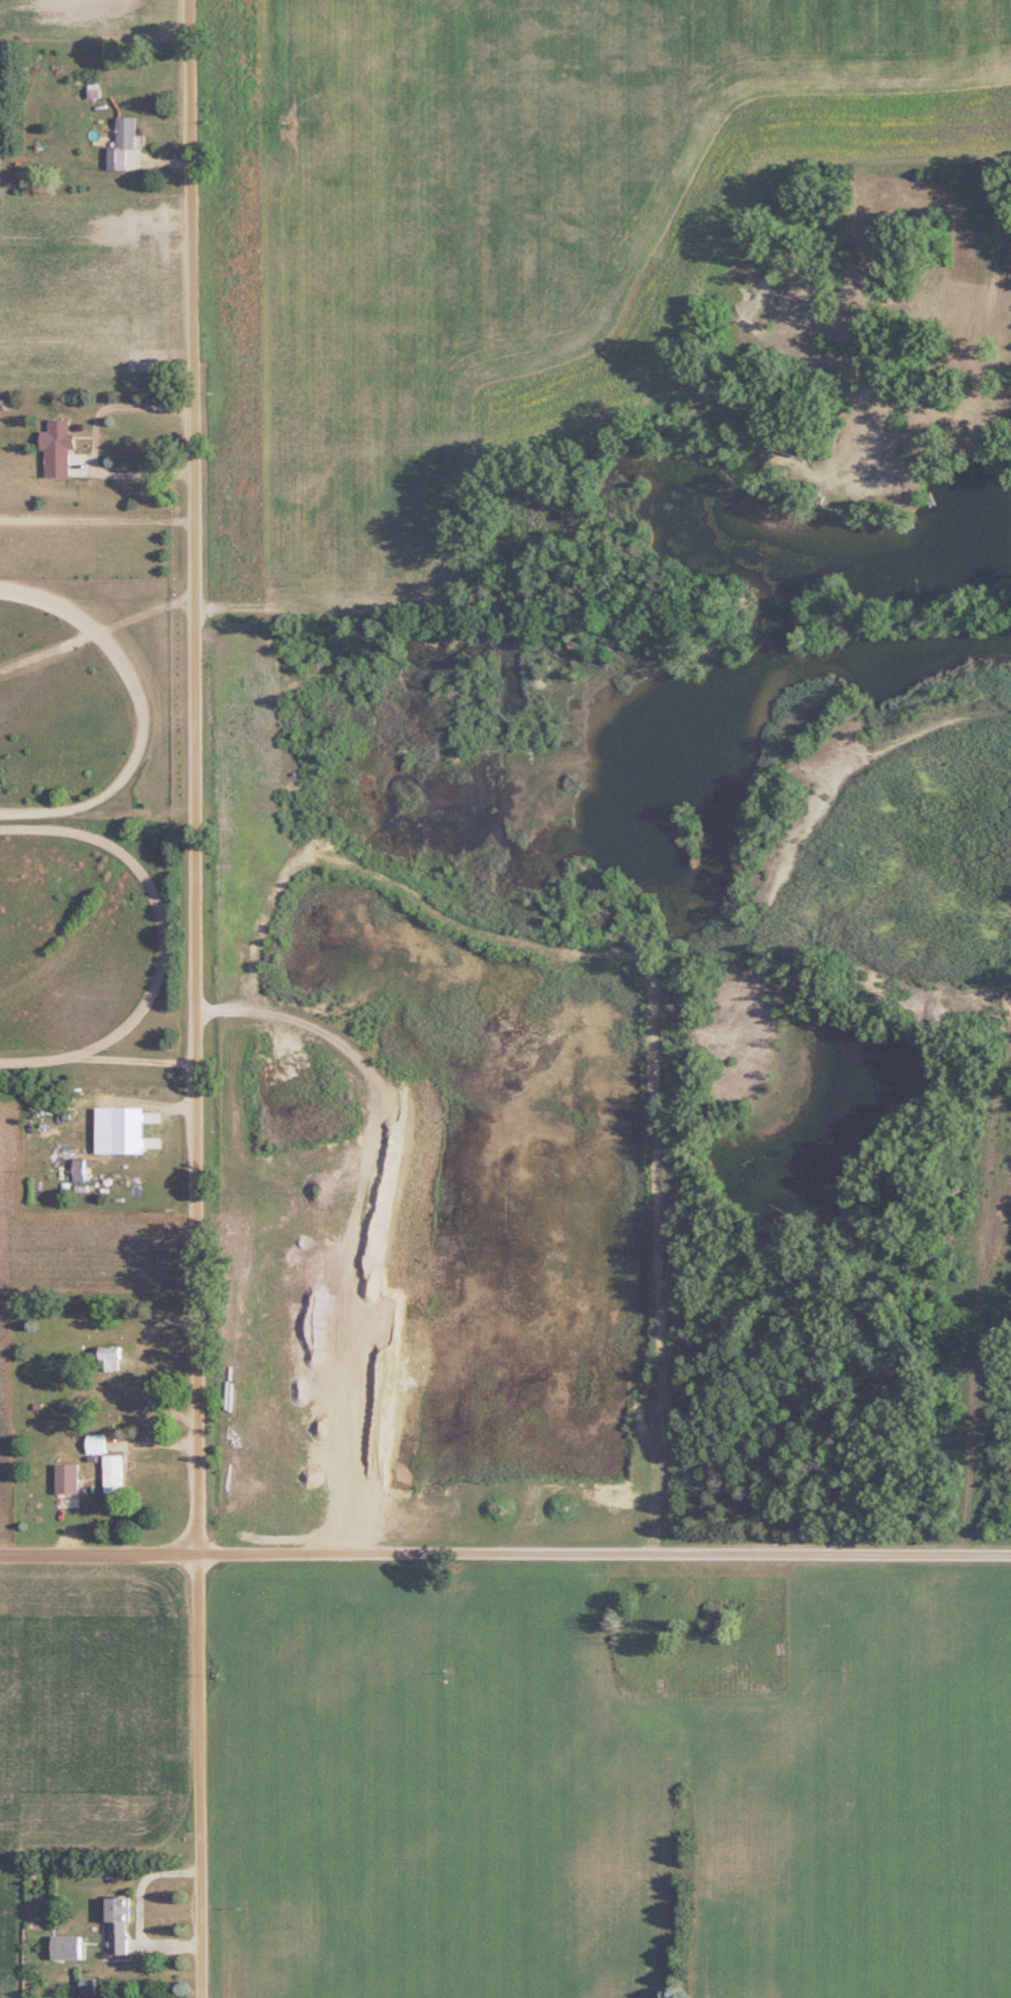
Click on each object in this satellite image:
building: (122, 143)
road: (95, 441)
building: (58, 448)
road: (97, 517)
road: (154, 908)
road: (191, 999)
road: (32, 1056)
road: (128, 1059)
building: (104, 1129)
building: (78, 1168)
building: (110, 1358)
road: (138, 1366)
road: (989, 1406)
building: (113, 1473)
building: (67, 1479)
road: (505, 1553)
building: (118, 1924)
building: (66, 1946)

